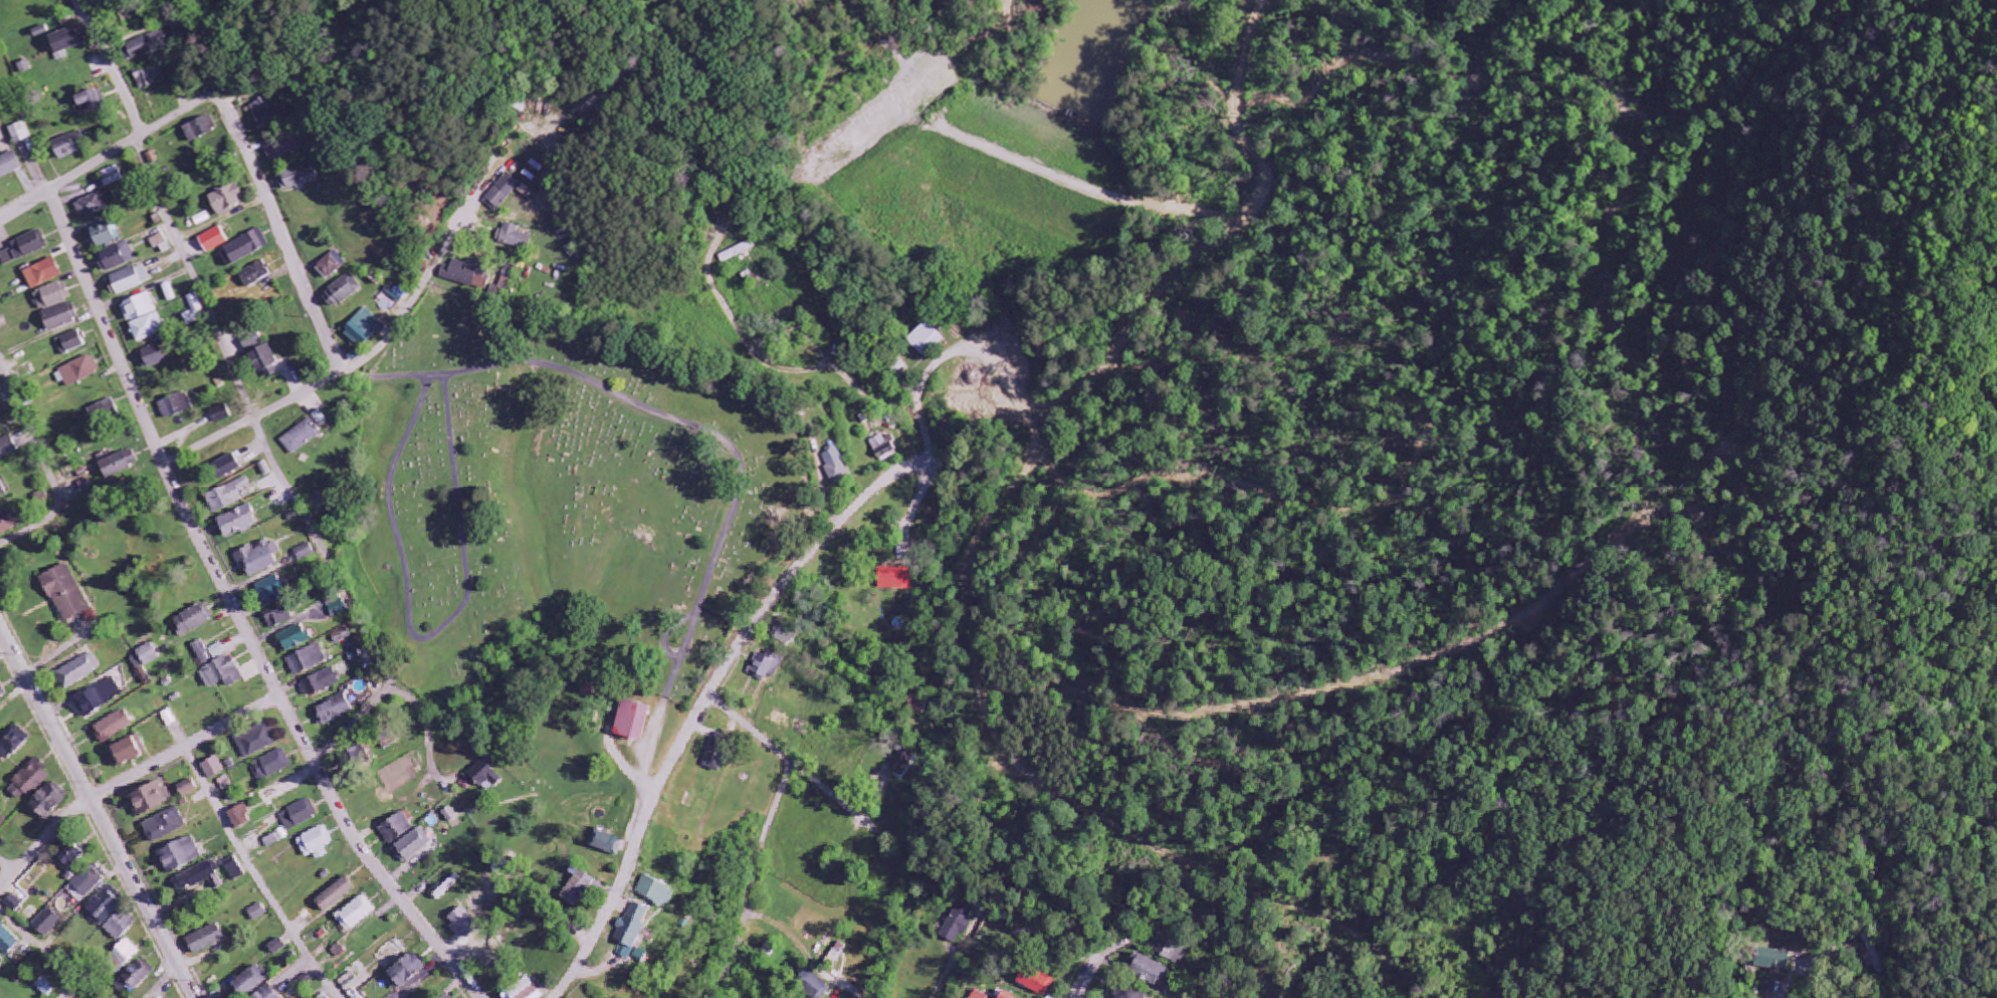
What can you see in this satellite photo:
building: (65, 41)
building: (153, 43)
building: (26, 67)
road: (113, 67)
building: (151, 77)
building: (88, 102)
building: (265, 107)
building: (200, 128)
building: (22, 133)
building: (285, 148)
building: (151, 159)
road: (103, 160)
building: (10, 165)
building: (113, 176)
building: (300, 178)
road: (346, 185)
building: (500, 192)
building: (226, 200)
building: (98, 204)
road: (279, 228)
building: (105, 235)
building: (512, 237)
building: (214, 240)
building: (162, 244)
building: (25, 248)
building: (244, 248)
building: (736, 252)
building: (117, 257)
building: (332, 265)
building: (44, 274)
building: (255, 274)
building: (467, 274)
road: (195, 278)
building: (128, 281)
building: (505, 281)
building: (342, 292)
building: (53, 296)
building: (195, 311)
building: (61, 317)
building: (143, 317)
road: (397, 327)
building: (363, 328)
building: (925, 339)
building: (72, 343)
building: (260, 354)
building: (152, 356)
building: (81, 371)
road: (897, 398)
road: (289, 400)
building: (3, 401)
building: (175, 405)
building: (103, 411)
building: (220, 414)
road: (700, 428)
road: (450, 431)
building: (301, 437)
building: (8, 448)
building: (884, 448)
road: (44, 463)
road: (275, 463)
building: (117, 464)
building: (835, 466)
building: (227, 467)
building: (2, 491)
road: (869, 494)
building: (229, 496)
building: (8, 522)
building: (238, 522)
building: (304, 553)
building: (258, 559)
building: (895, 579)
building: (272, 589)
road: (408, 593)
building: (64, 594)
building: (337, 610)
road: (235, 611)
building: (278, 617)
building: (192, 621)
road: (673, 631)
building: (783, 637)
building: (294, 640)
road: (374, 651)
building: (216, 652)
building: (201, 654)
building: (143, 658)
building: (306, 662)
building: (765, 666)
building: (78, 672)
building: (221, 674)
building: (143, 677)
building: (319, 684)
building: (2, 693)
building: (100, 698)
building: (916, 705)
building: (331, 712)
building: (632, 722)
road: (352, 725)
building: (112, 727)
building: (256, 742)
building: (13, 744)
road: (769, 744)
building: (127, 752)
building: (715, 757)
building: (902, 764)
building: (271, 767)
building: (213, 769)
building: (484, 778)
road: (129, 779)
building: (28, 782)
building: (187, 790)
building: (149, 800)
building: (48, 802)
road: (97, 815)
building: (298, 816)
building: (449, 817)
building: (240, 819)
building: (2, 822)
building: (164, 826)
building: (396, 829)
building: (271, 842)
building: (314, 844)
building: (606, 844)
building: (411, 847)
building: (179, 856)
building: (69, 859)
building: (234, 870)
road: (256, 877)
building: (197, 880)
building: (577, 889)
building: (656, 892)
building: (333, 895)
building: (13, 905)
road: (746, 907)
building: (103, 908)
building: (256, 912)
building: (354, 914)
building: (463, 923)
building: (958, 923)
building: (47, 924)
building: (119, 927)
building: (631, 929)
building: (204, 940)
building: (7, 942)
building: (276, 948)
building: (1170, 948)
road: (40, 949)
building: (125, 953)
building: (836, 953)
building: (1775, 961)
building: (1, 963)
building: (405, 972)
building: (1151, 973)
building: (135, 976)
building: (1035, 981)
building: (249, 982)
building: (349, 982)
road: (165, 985)
road: (1082, 985)
building: (46, 986)
building: (814, 986)
building: (525, 990)
building: (265, 993)
building: (1127, 993)
building: (979, 995)
building: (1006, 995)
building: (447, 996)

